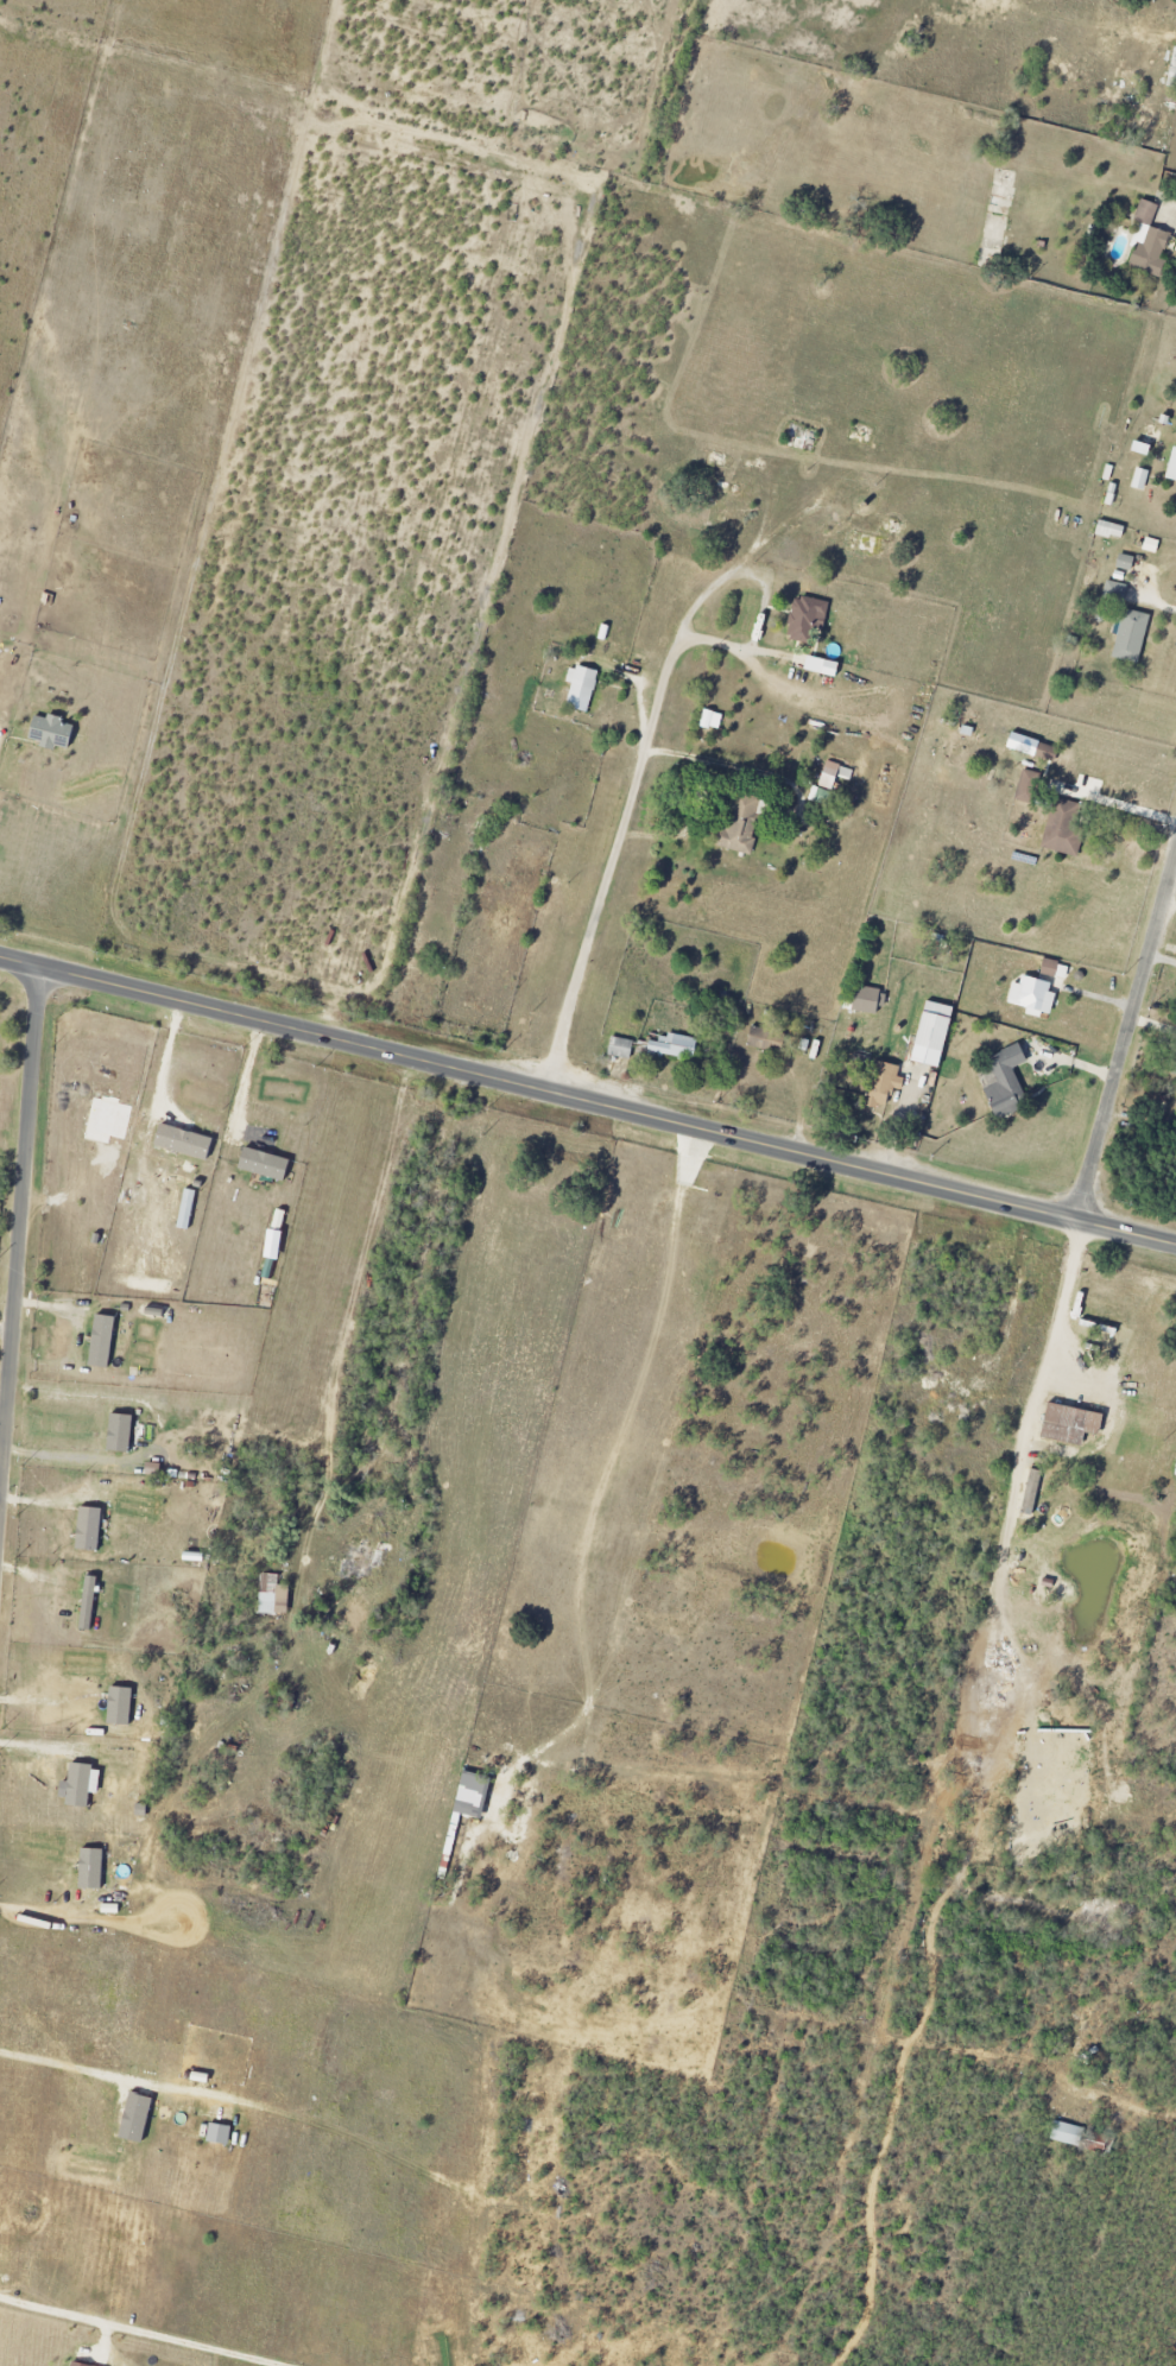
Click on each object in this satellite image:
building: (1162, 124)
road: (1171, 214)
building: (1171, 466)
building: (1140, 479)
building: (1111, 530)
building: (1126, 563)
building: (808, 618)
road: (753, 634)
building: (822, 666)
building: (580, 688)
building: (713, 720)
building: (51, 732)
building: (1047, 753)
road: (636, 773)
building: (835, 774)
building: (1026, 786)
building: (742, 825)
building: (1066, 836)
building: (1055, 969)
building: (1033, 995)
building: (867, 1000)
building: (934, 1035)
road: (1126, 1039)
building: (766, 1040)
building: (675, 1046)
building: (621, 1048)
building: (1174, 1058)
road: (246, 1078)
building: (1007, 1083)
building: (883, 1084)
road: (587, 1103)
building: (184, 1141)
building: (266, 1164)
road: (19, 1235)
road: (1060, 1308)
road: (6, 1331)
building: (102, 1341)
building: (1071, 1424)
building: (121, 1434)
road: (160, 1434)
building: (89, 1530)
building: (273, 1595)
building: (89, 1600)
building: (120, 1707)
building: (81, 1785)
building: (473, 1795)
building: (91, 1870)
road: (50, 1909)
road: (112, 2077)
building: (137, 2118)
building: (220, 2133)
building: (1067, 2134)
road: (147, 2330)
building: (75, 2364)

